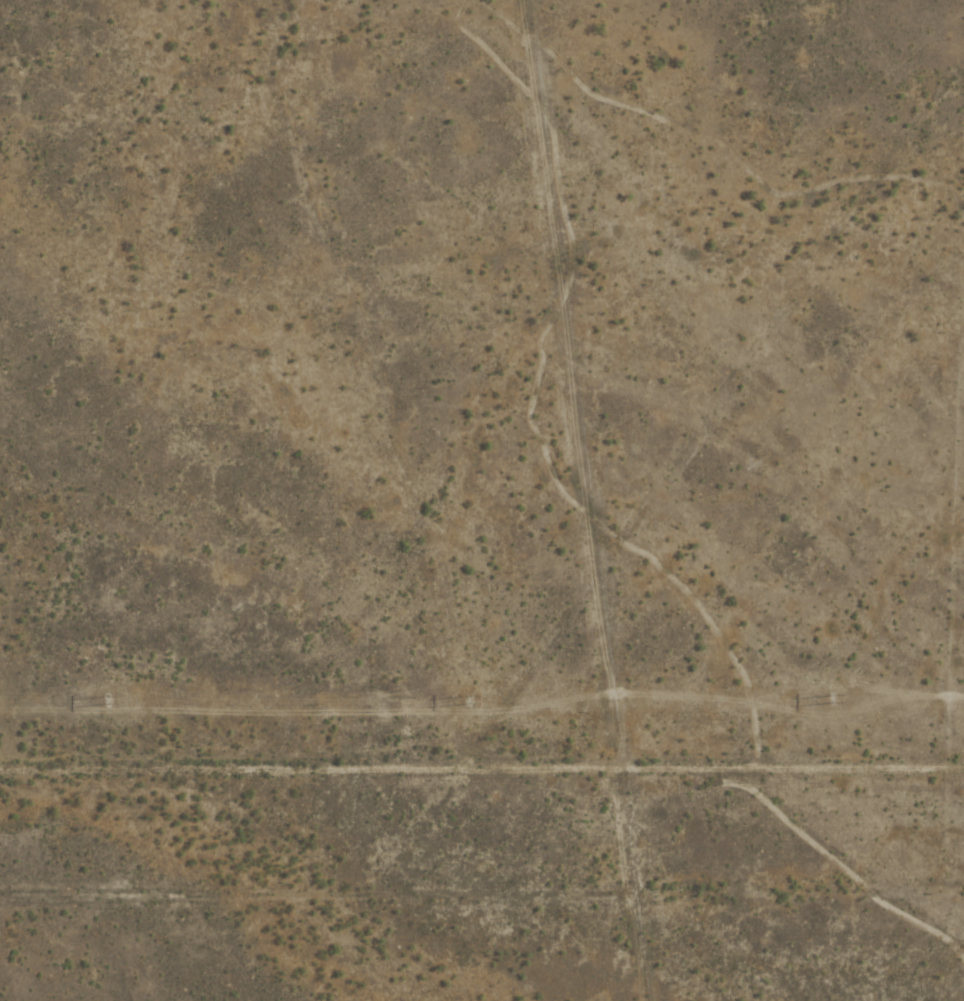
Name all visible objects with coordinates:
power tower: (829, 699)
power tower: (114, 701)
power tower: (477, 702)

